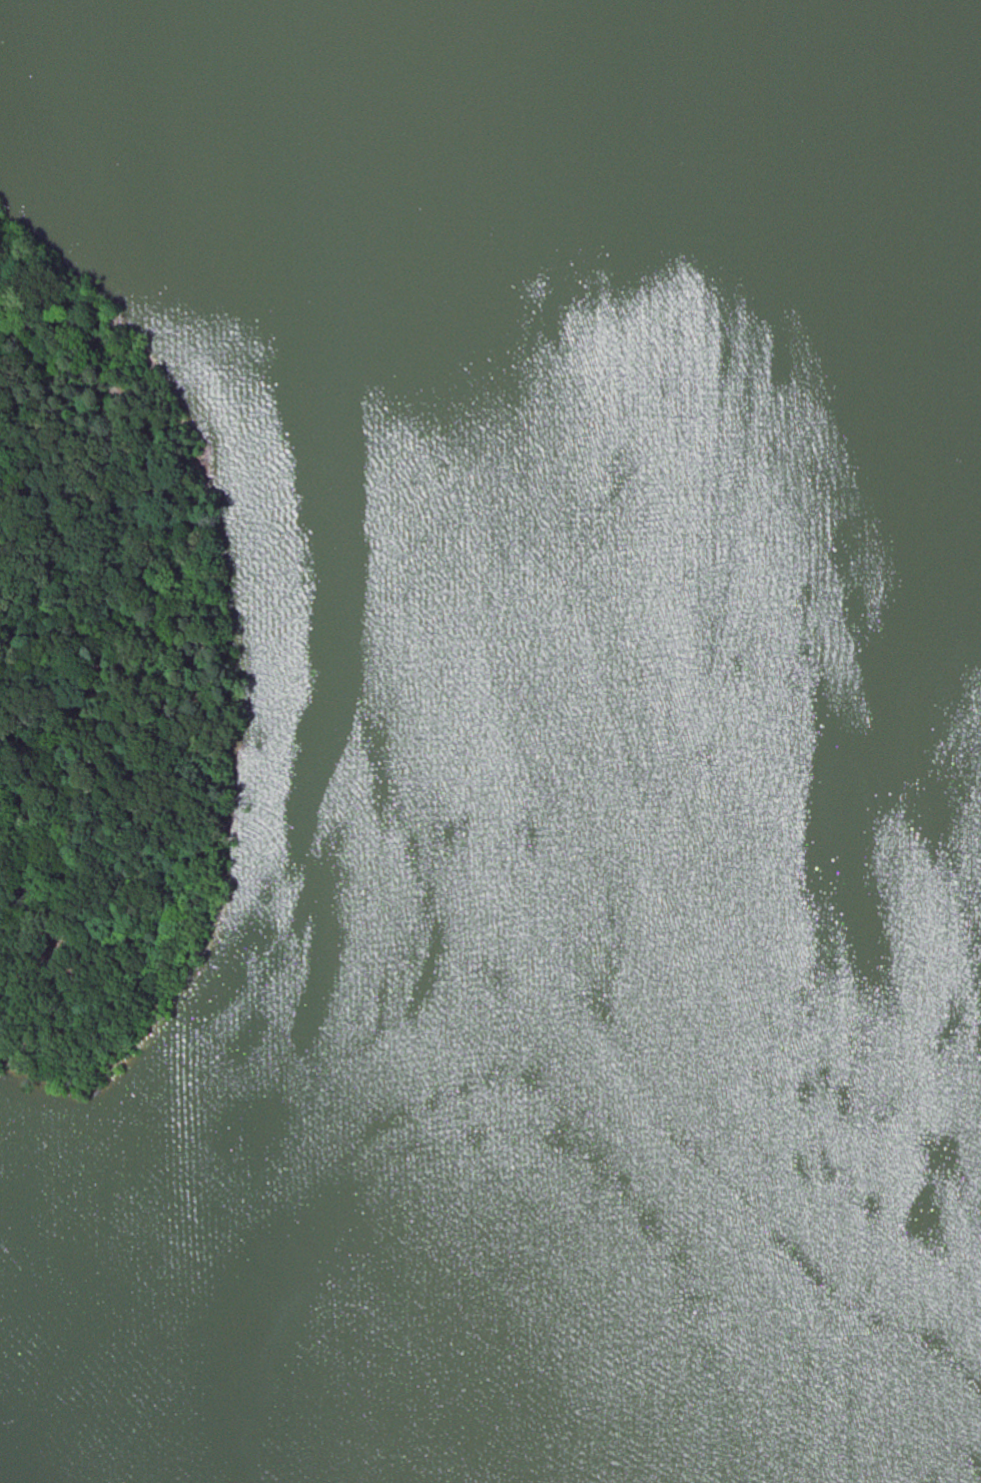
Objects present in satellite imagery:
road: (20, 892)

